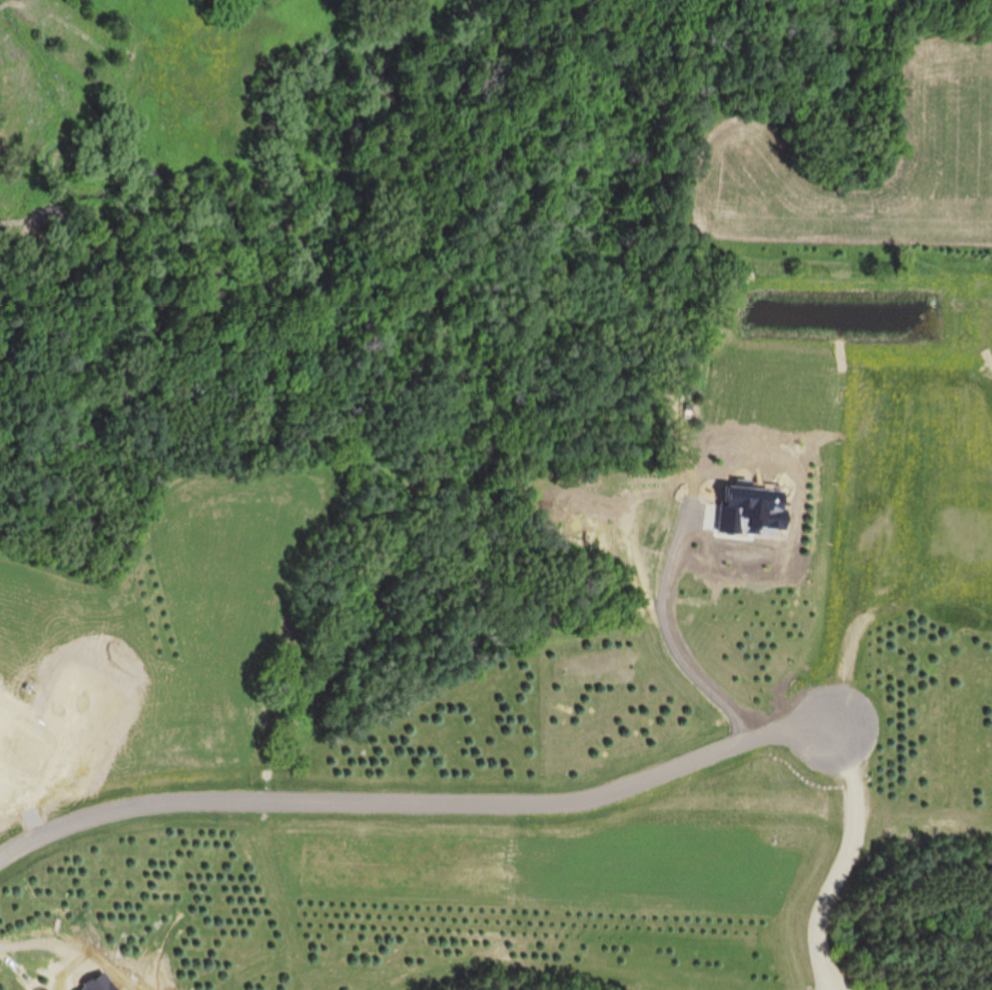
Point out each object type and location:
road: (673, 645)
road: (421, 802)
road: (843, 865)

